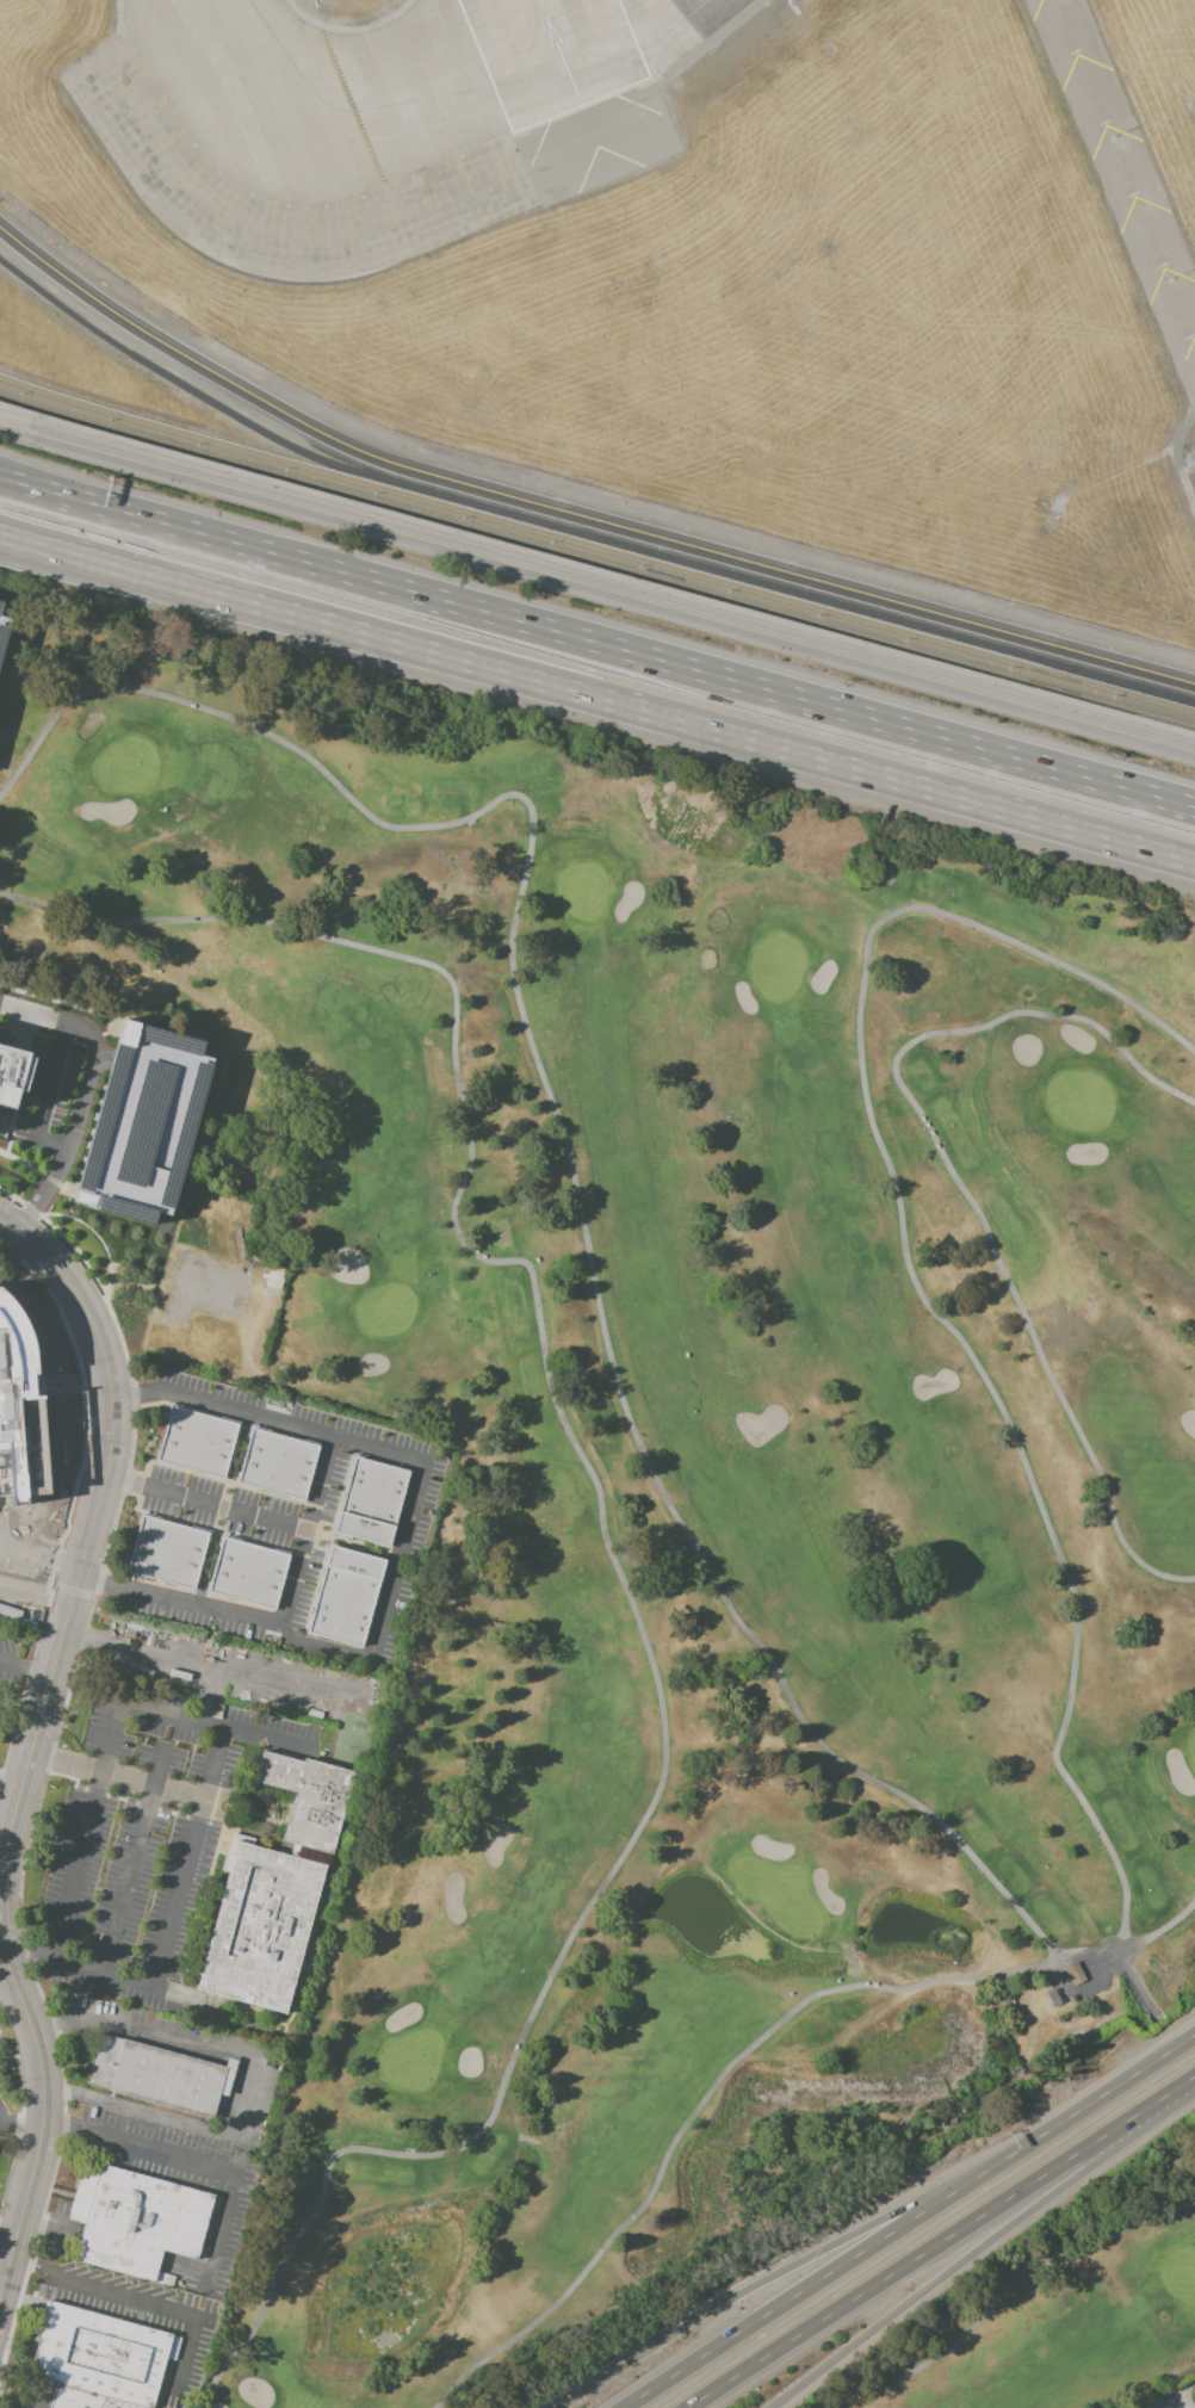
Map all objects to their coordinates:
airport taxiway: (429, 86)
airport taxiway: (460, 120)
airport: (685, 250)
road: (30, 434)
road: (4, 478)
road: (4, 479)
road: (17, 483)
road: (571, 515)
road: (4, 537)
road: (4, 538)
railway: (596, 549)
railway: (596, 562)
road: (596, 572)
road: (627, 599)
building: (5, 626)
parking lot: (5, 626)
road: (611, 645)
road: (601, 700)
road: (14, 1008)
road: (112, 1025)
road: (23, 1033)
building: (11, 1077)
road: (20, 1088)
parking lot: (47, 1095)
road: (47, 1096)
road: (81, 1108)
road: (7, 1109)
building: (143, 1125)
parking lot: (143, 1125)
road: (565, 1145)
road: (36, 1171)
road: (958, 1182)
road: (7, 1226)
road: (95, 1236)
building: (275, 1275)
road: (914, 1285)
building: (211, 1336)
building: (7, 1343)
road: (128, 1372)
road: (89, 1403)
road: (30, 1422)
building: (197, 1442)
road: (414, 1460)
building: (278, 1463)
park: (657, 1465)
building: (371, 1500)
road: (205, 1503)
road: (603, 1536)
building: (168, 1553)
building: (248, 1573)
road: (74, 1592)
building: (345, 1596)
road: (35, 1597)
road: (273, 1624)
road: (199, 1661)
road: (25, 1672)
road: (26, 1685)
road: (205, 1694)
road: (32, 1748)
road: (117, 1777)
road: (100, 1781)
road: (11, 1783)
building: (308, 1797)
road: (199, 1813)
road: (6, 1821)
building: (309, 1855)
road: (134, 1862)
park: (778, 1893)
building: (260, 1925)
road: (0, 1929)
road: (1162, 1929)
road: (1090, 1956)
building: (1072, 1973)
road: (6, 1974)
road: (138, 1982)
road: (36, 1985)
road: (1140, 1987)
building: (159, 2075)
road: (249, 2080)
road: (1172, 2091)
road: (1096, 2099)
road: (701, 2100)
road: (21, 2117)
road: (19, 2128)
road: (194, 2160)
building: (137, 2220)
road: (7, 2233)
road: (920, 2257)
road: (964, 2260)
road: (2, 2273)
road: (774, 2274)
road: (811, 2285)
road: (997, 2292)
road: (140, 2295)
park: (1058, 2308)
building: (172, 2347)
building: (100, 2356)
road: (1174, 2394)
road: (37, 2398)
building: (82, 2400)

